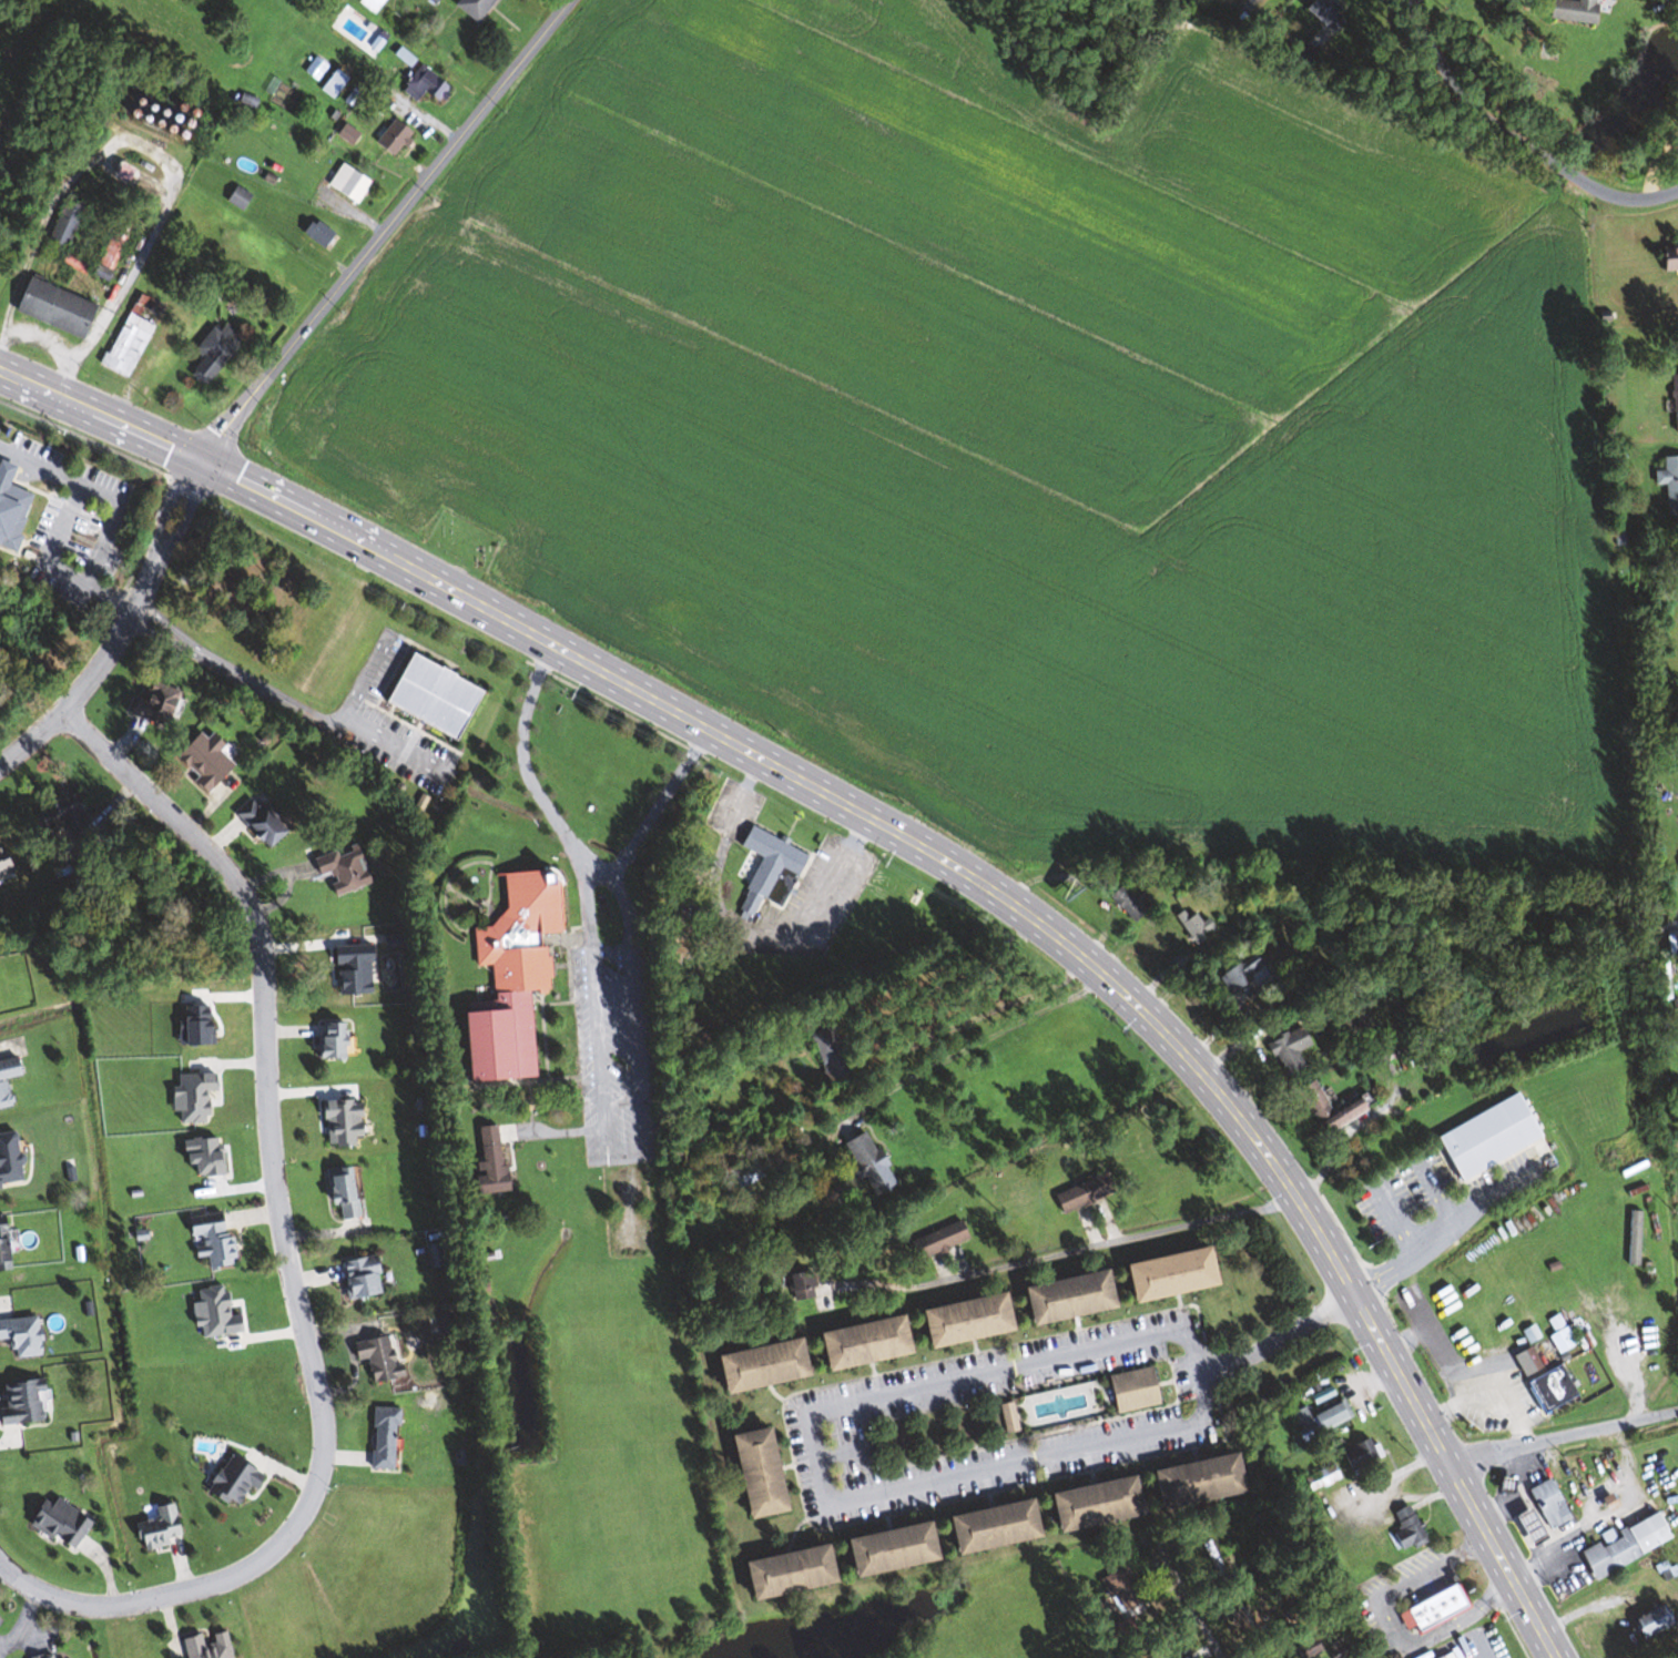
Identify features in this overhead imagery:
road: (1399, 0)
building: (428, 1)
building: (469, 8)
building: (1570, 11)
building: (1320, 14)
building: (428, 83)
building: (338, 84)
building: (149, 109)
building: (399, 135)
road: (1514, 136)
road: (139, 144)
building: (353, 182)
building: (241, 196)
building: (69, 222)
road: (386, 228)
building: (323, 233)
building: (114, 250)
building: (1667, 256)
building: (78, 264)
building: (61, 307)
building: (135, 334)
road: (50, 347)
building: (218, 352)
building: (1674, 403)
traffic signals: (202, 460)
building: (1668, 484)
building: (13, 506)
road: (111, 507)
road: (51, 541)
road: (123, 629)
building: (426, 693)
building: (162, 704)
building: (211, 760)
road: (664, 794)
building: (70, 810)
building: (270, 822)
road: (927, 847)
building: (8, 862)
building: (763, 867)
building: (340, 872)
road: (597, 875)
building: (1123, 903)
building: (1239, 908)
building: (1190, 923)
road: (1668, 926)
building: (1238, 973)
building: (1661, 976)
building: (506, 980)
road: (987, 1013)
building: (338, 1040)
road: (985, 1040)
building: (1285, 1050)
road: (597, 1051)
building: (835, 1069)
building: (10, 1080)
building: (1323, 1109)
building: (1483, 1138)
road: (1676, 1146)
building: (486, 1162)
building: (864, 1164)
building: (336, 1190)
building: (1079, 1194)
building: (206, 1239)
building: (934, 1241)
building: (7, 1243)
road: (285, 1248)
building: (430, 1255)
building: (1161, 1275)
building: (355, 1278)
building: (794, 1282)
building: (1059, 1299)
building: (957, 1322)
building: (26, 1335)
road: (1277, 1337)
building: (1558, 1337)
building: (855, 1344)
building: (1529, 1357)
building: (374, 1359)
building: (752, 1367)
road: (994, 1373)
road: (1193, 1374)
building: (1548, 1389)
building: (1128, 1391)
building: (28, 1403)
building: (1319, 1418)
road: (1564, 1436)
building: (379, 1440)
road: (1624, 1451)
building: (1355, 1455)
road: (815, 1459)
road: (1016, 1463)
building: (748, 1474)
building: (1319, 1478)
building: (230, 1482)
building: (1189, 1483)
building: (1087, 1505)
building: (1545, 1505)
road: (1609, 1513)
building: (65, 1522)
building: (154, 1528)
building: (984, 1528)
building: (1524, 1528)
building: (1404, 1529)
building: (1621, 1545)
building: (881, 1550)
building: (1211, 1559)
building: (779, 1574)
building: (1119, 1588)
road: (1183, 1595)
building: (1431, 1609)
building: (1248, 1616)
road: (24, 1619)
building: (1649, 1623)
road: (1389, 1625)
building: (213, 1646)
building: (1306, 1649)
building: (1157, 1650)
building: (48, 1655)
building: (1445, 1656)
road: (914, 1657)

